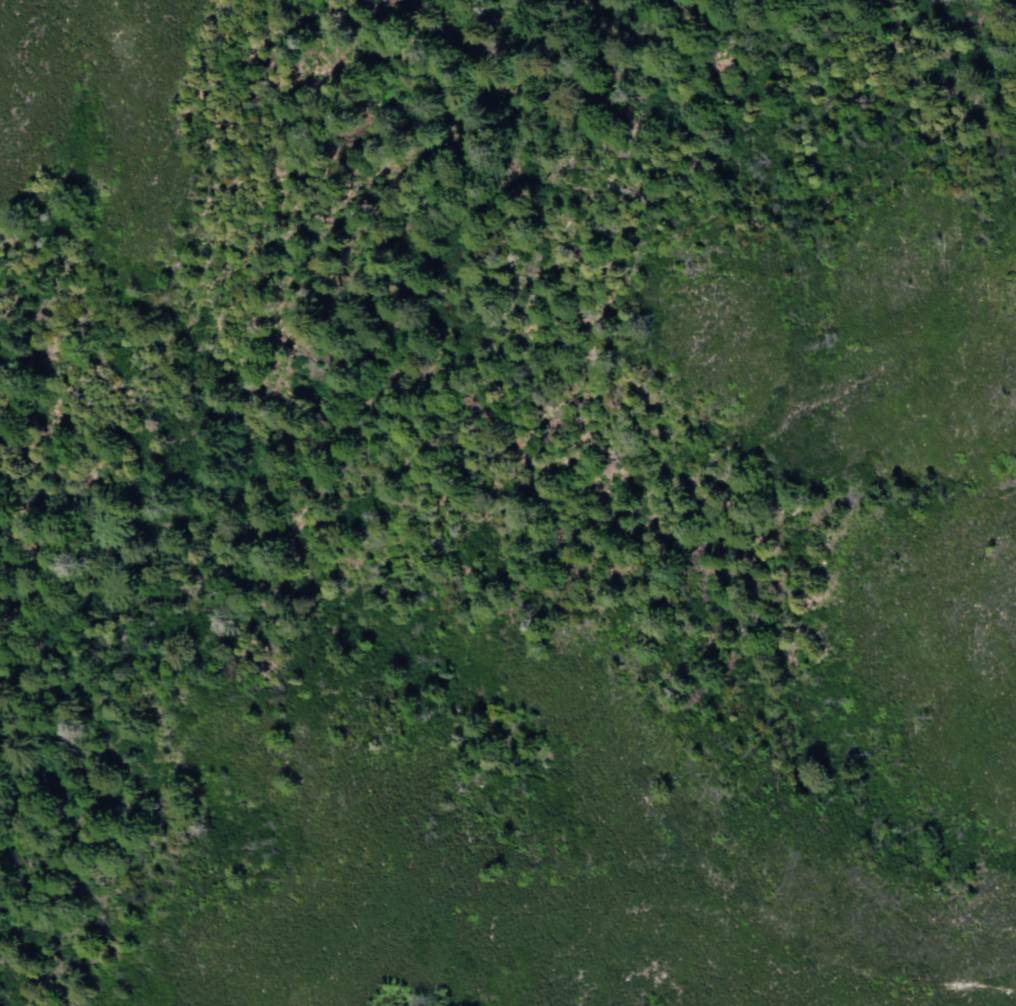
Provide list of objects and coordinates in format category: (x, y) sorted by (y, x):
road: (530, 632)

